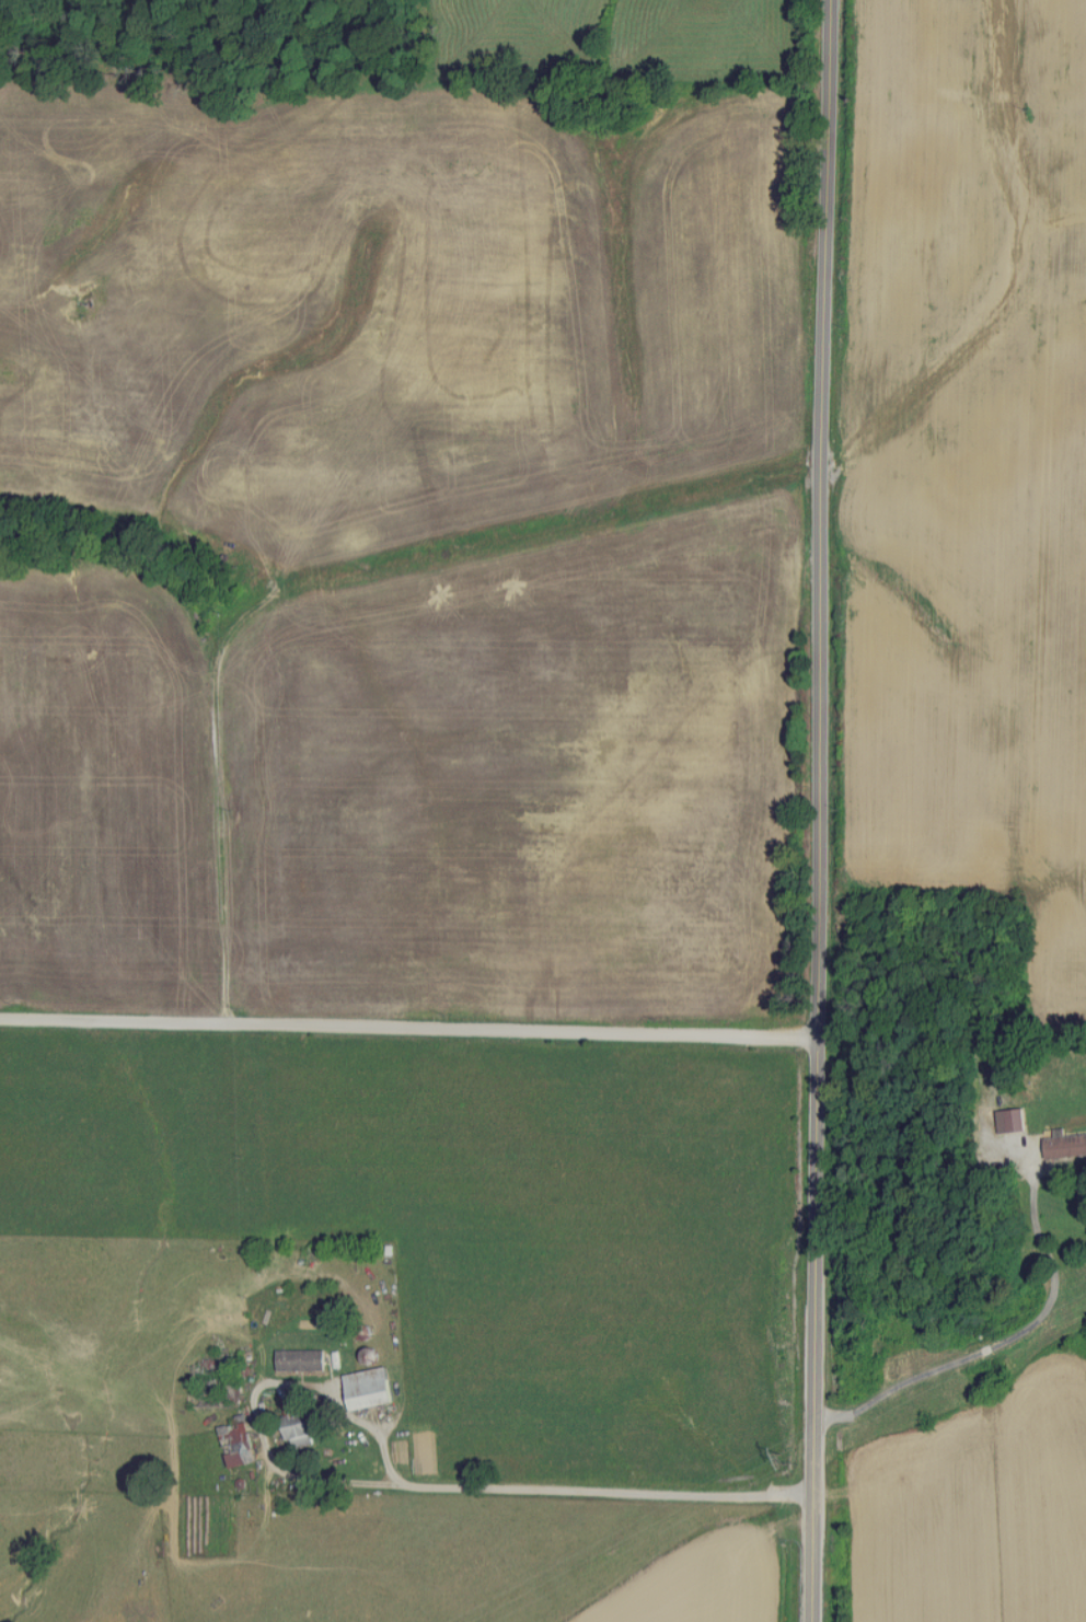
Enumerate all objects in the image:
road: (819, 810)
road: (408, 1030)
building: (1014, 1121)
building: (1066, 1147)
road: (1007, 1341)
building: (304, 1360)
building: (372, 1389)
building: (303, 1430)
building: (240, 1445)
road: (401, 1486)

